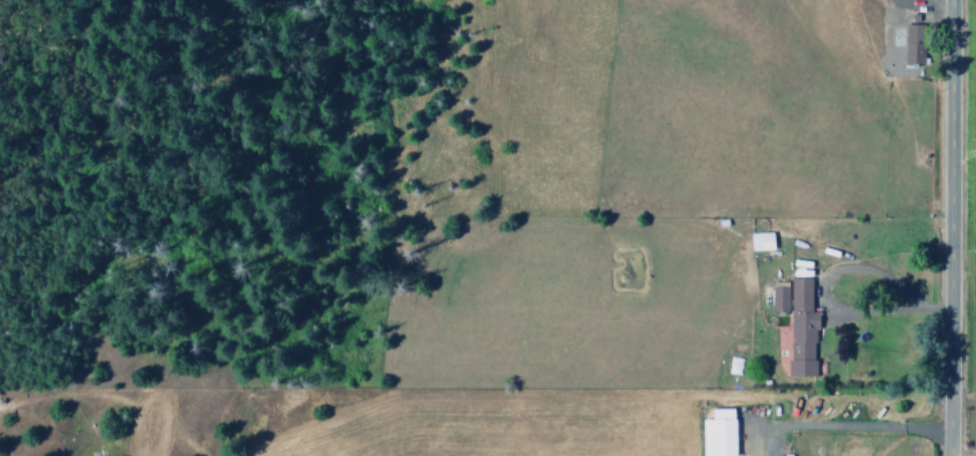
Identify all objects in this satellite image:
building: (915, 44)
road: (946, 228)
building: (763, 241)
building: (779, 297)
building: (802, 329)
building: (720, 433)

